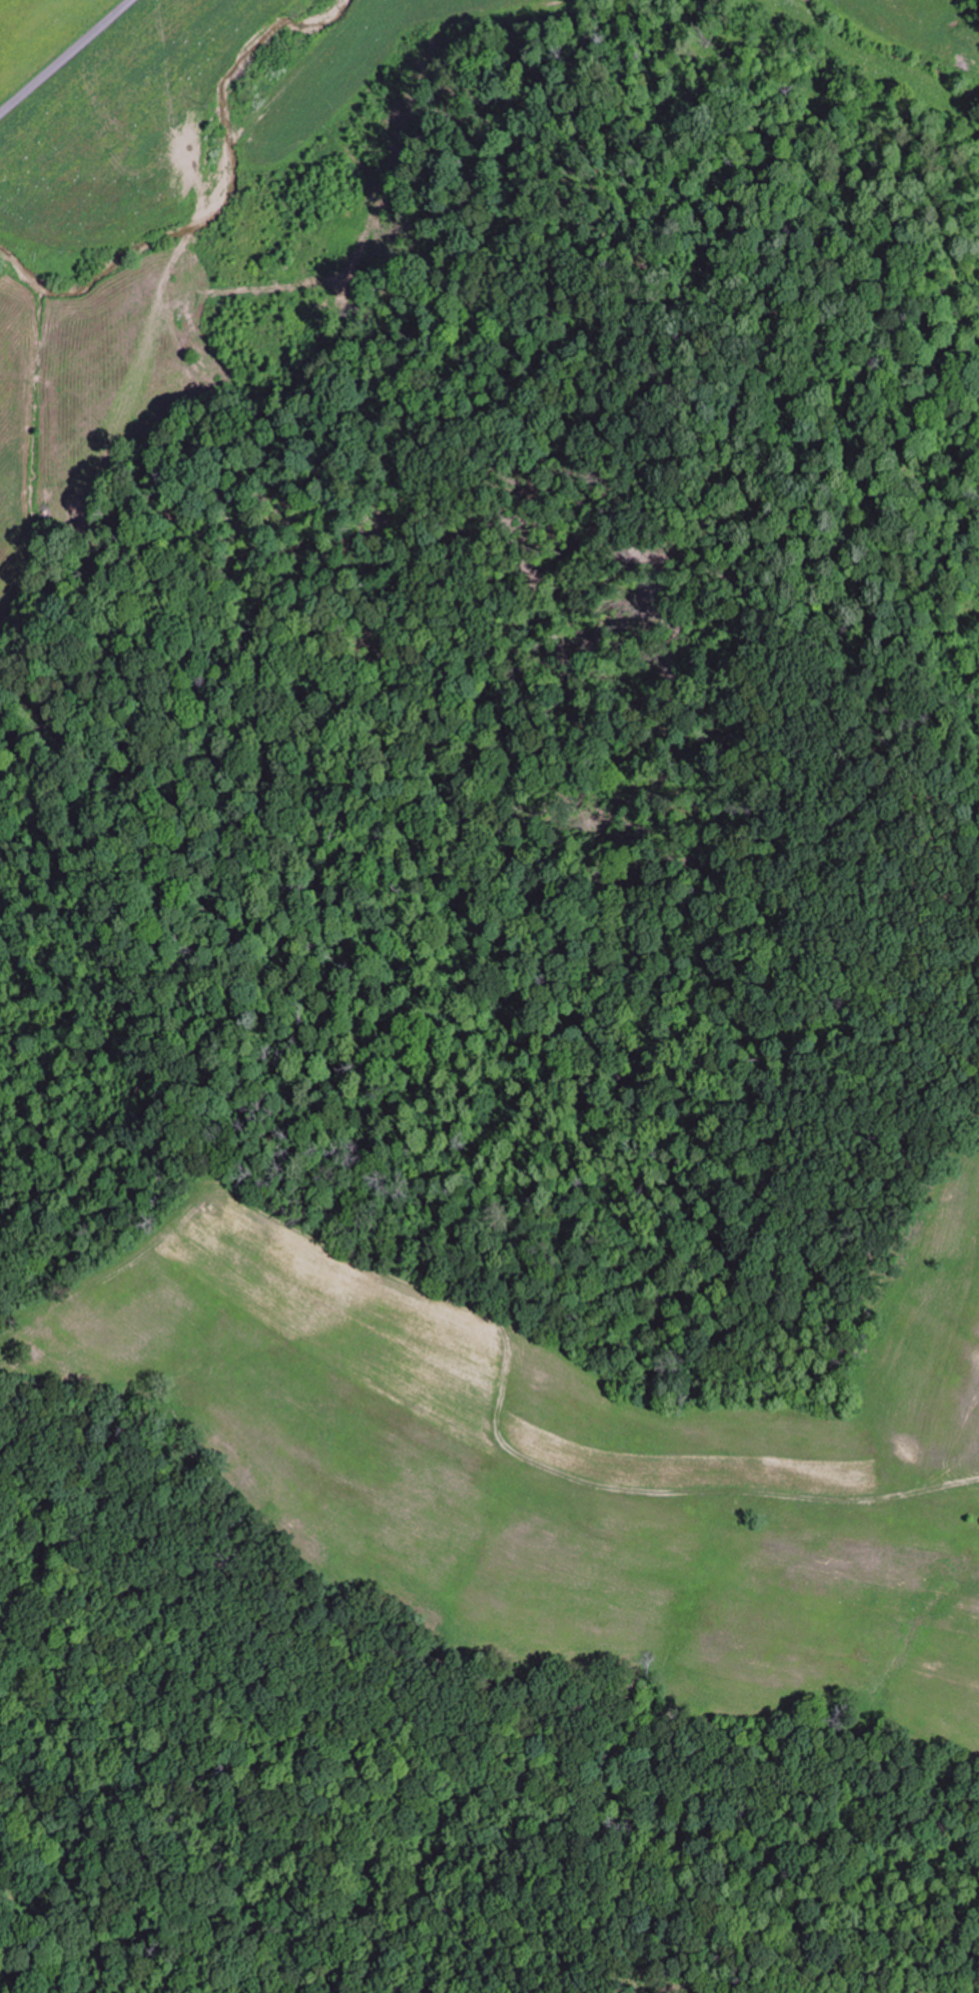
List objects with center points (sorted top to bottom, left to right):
road: (63, 55)

